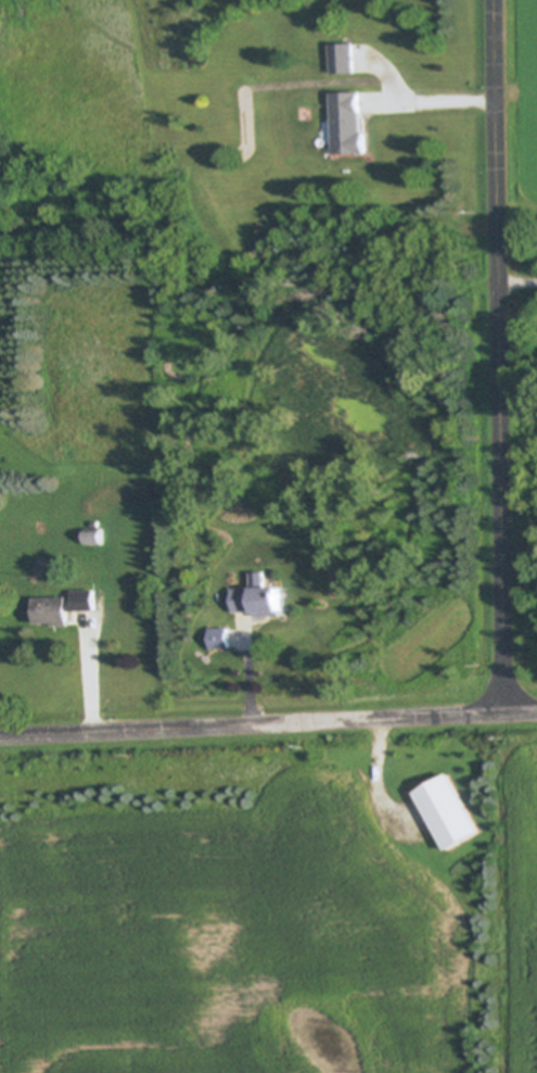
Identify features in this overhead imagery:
building: (345, 60)
road: (445, 101)
building: (350, 125)
road: (516, 281)
road: (497, 356)
building: (261, 599)
building: (88, 602)
building: (55, 613)
building: (221, 640)
road: (92, 681)
road: (248, 685)
road: (268, 724)
building: (452, 816)

